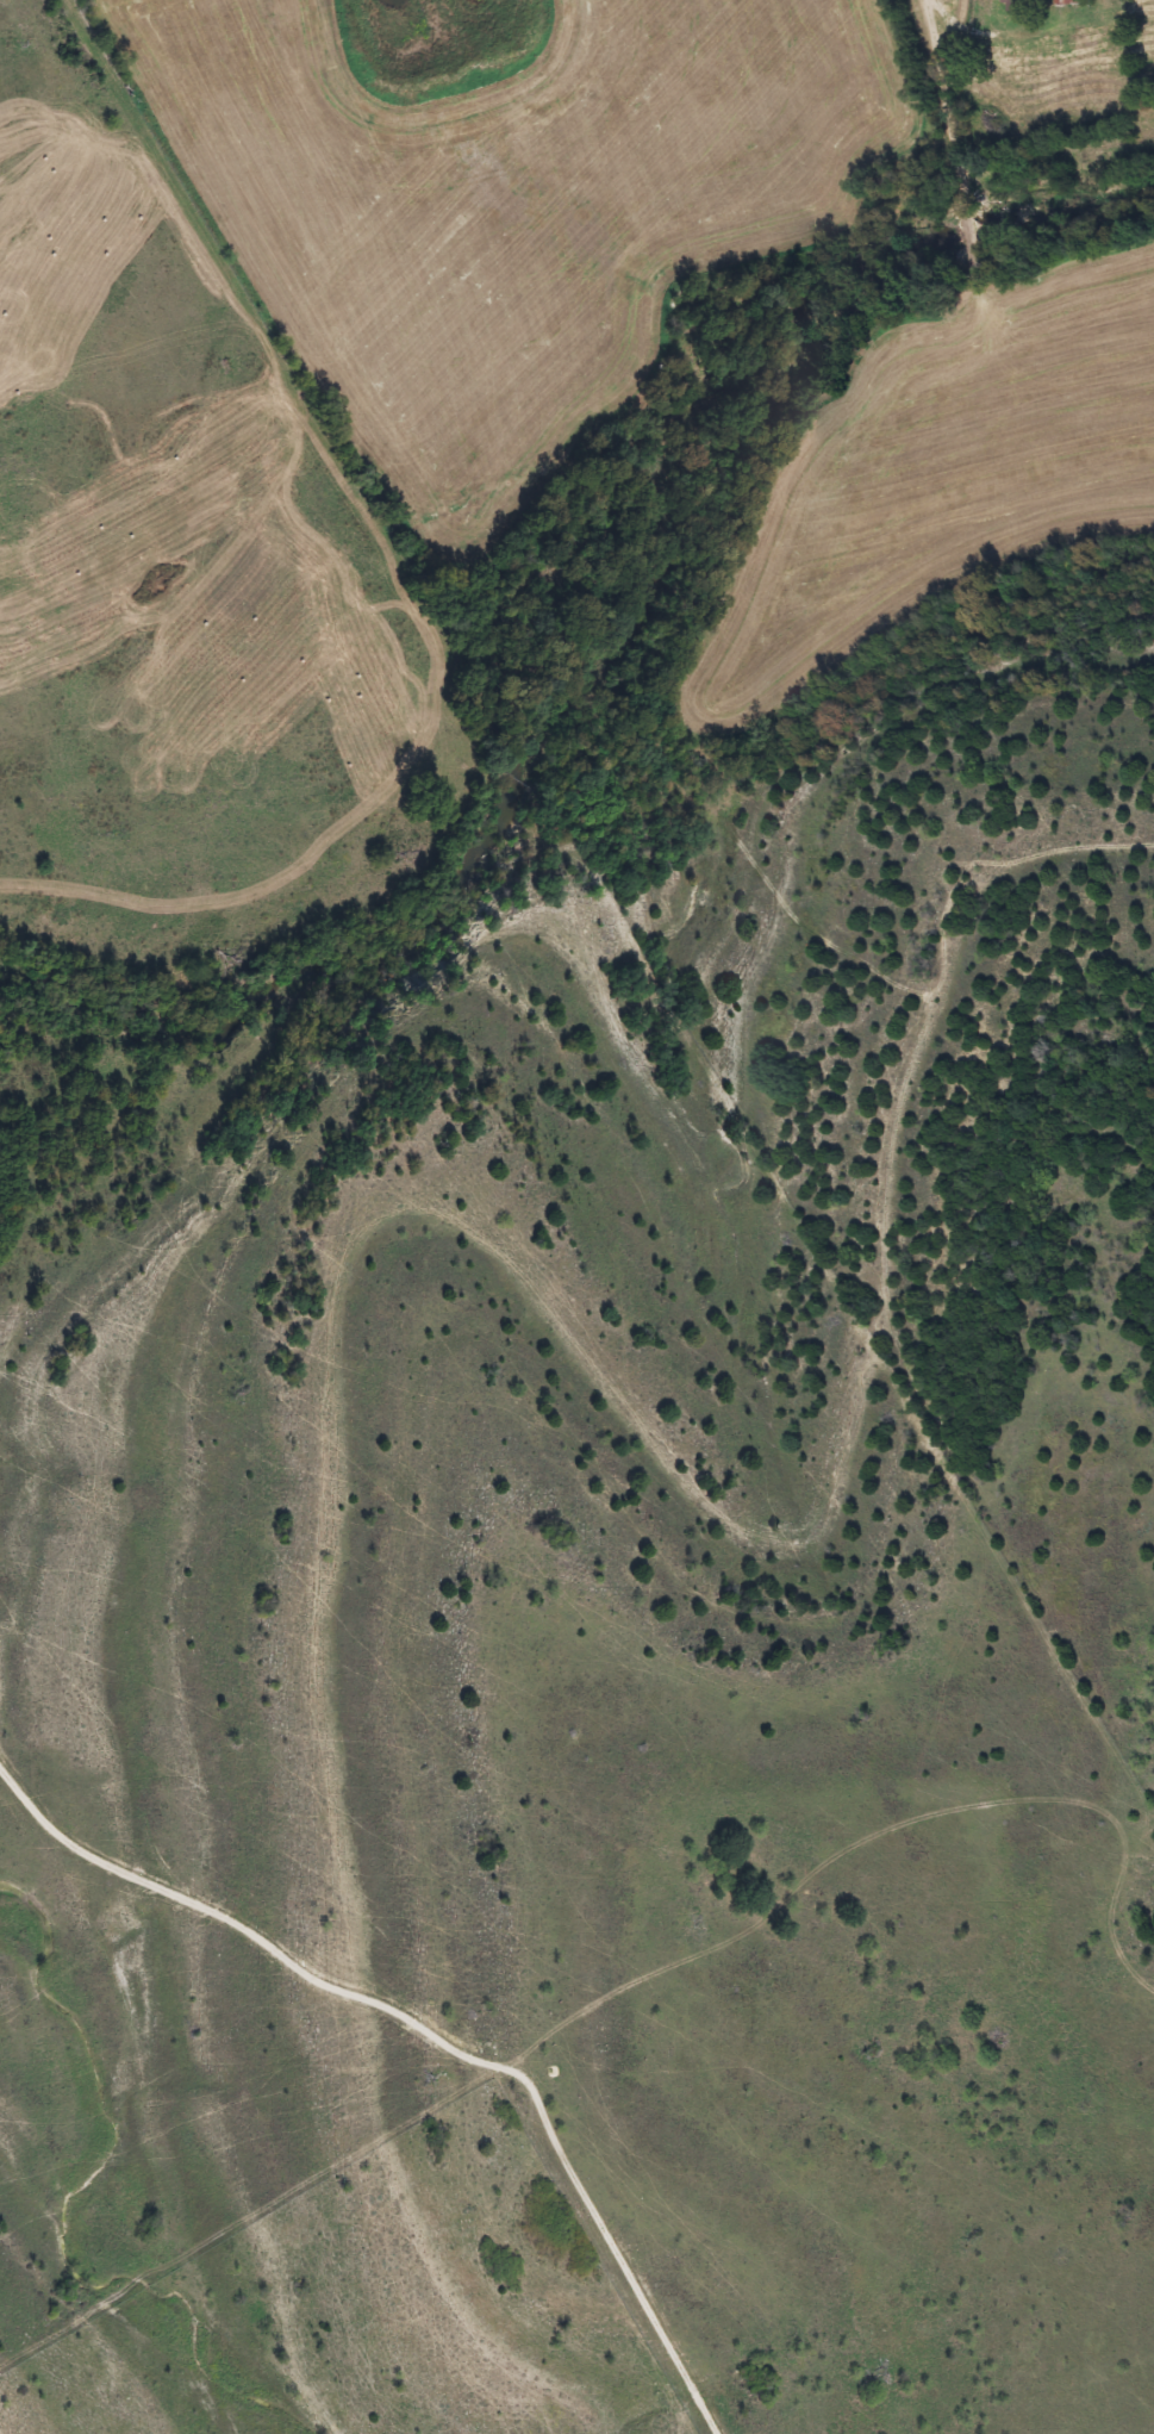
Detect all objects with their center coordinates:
building: (1025, 5)
road: (942, 12)

